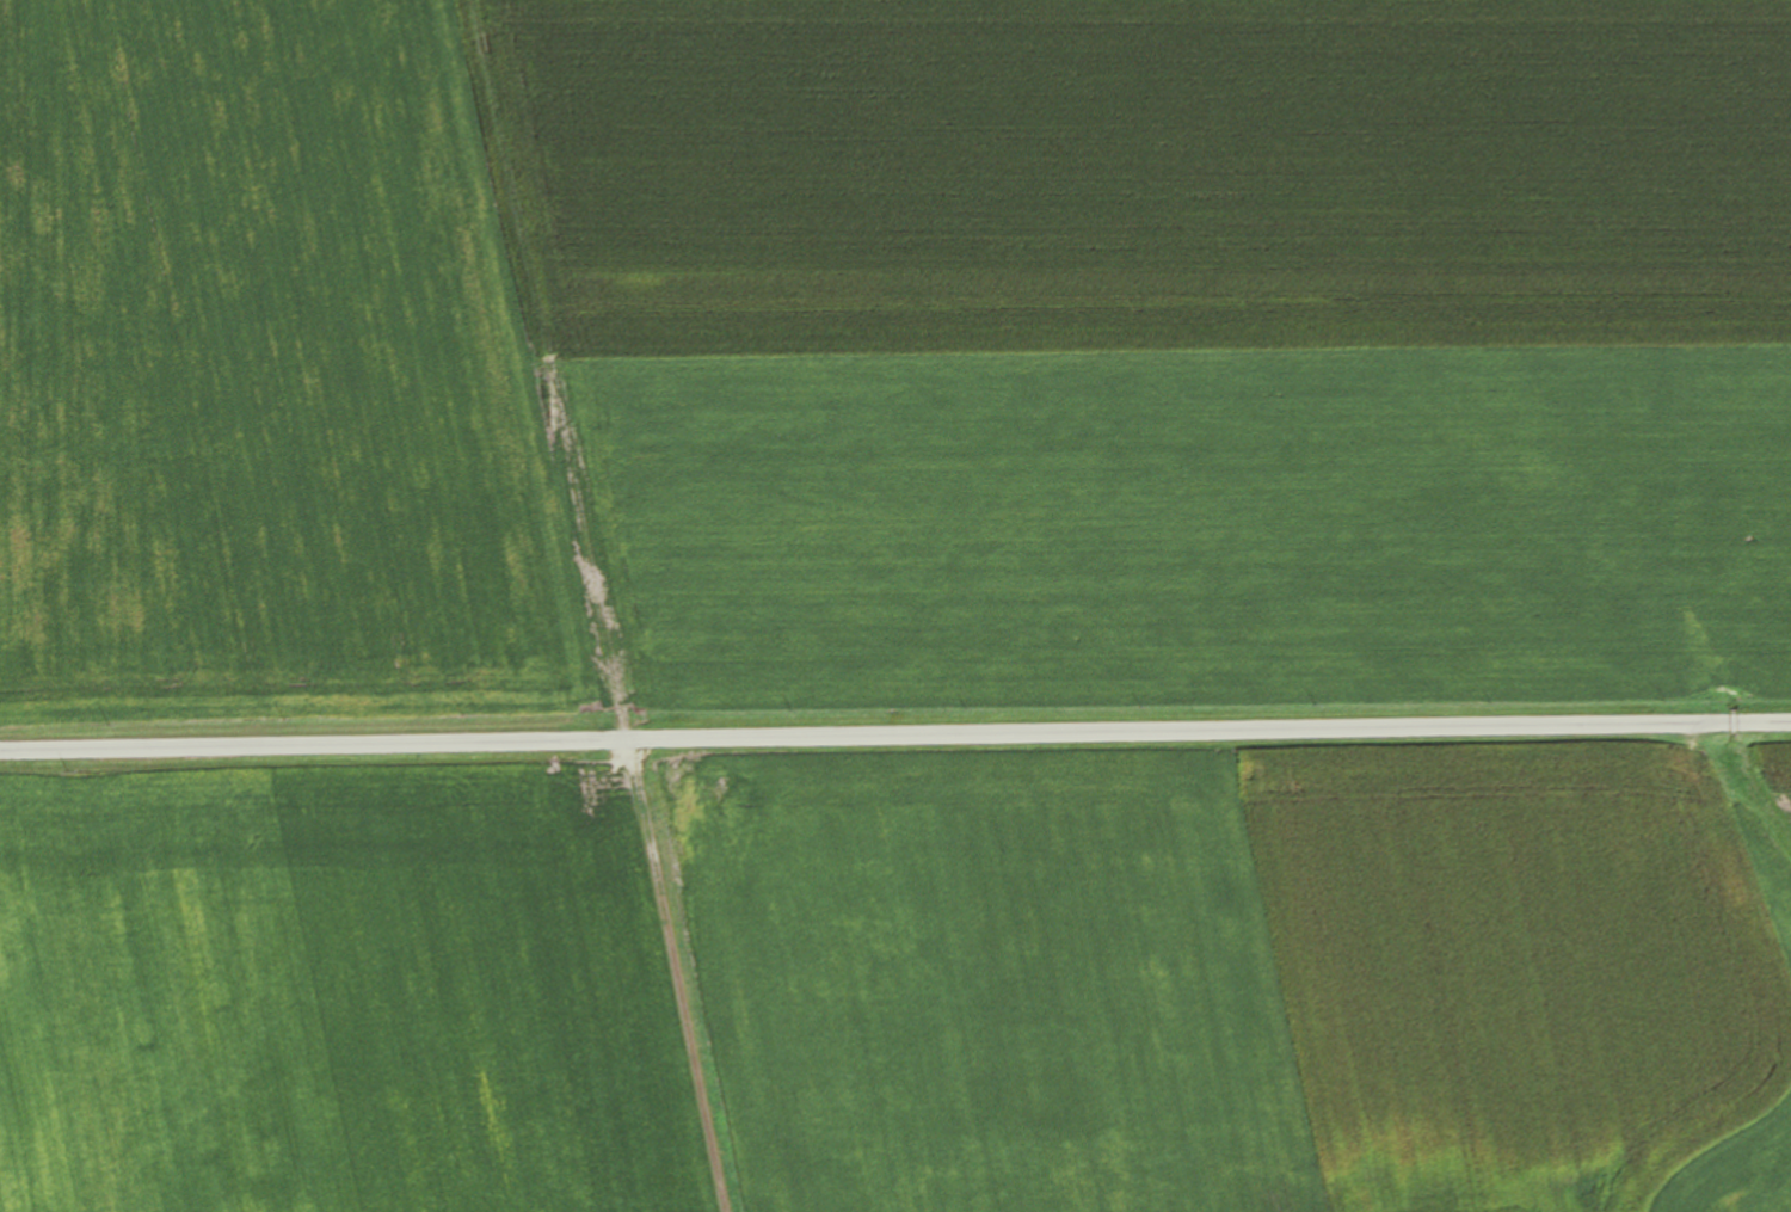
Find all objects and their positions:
road: (894, 736)

